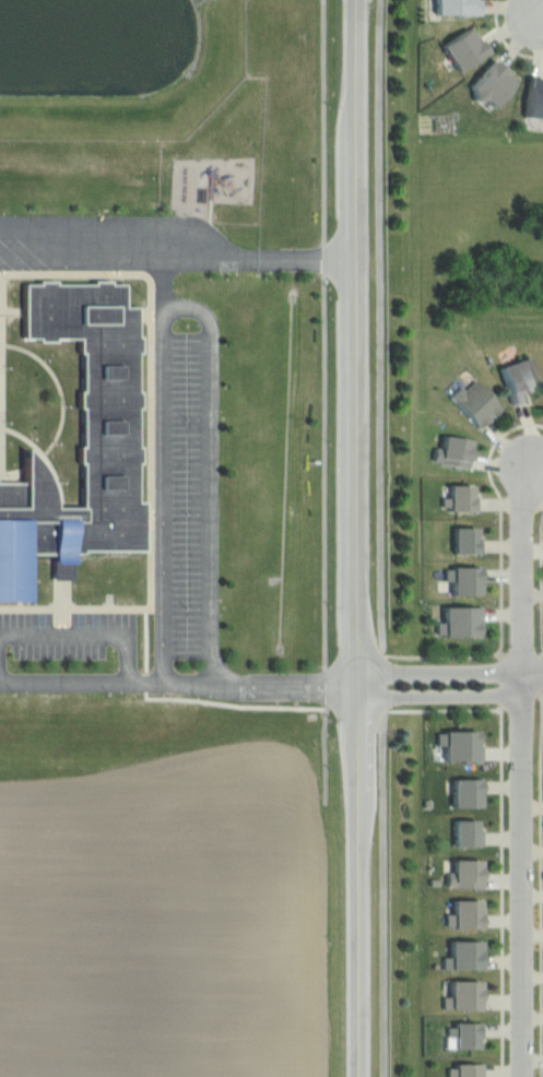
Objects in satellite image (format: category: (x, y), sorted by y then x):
building: (458, 7)
road: (505, 39)
building: (464, 47)
building: (491, 84)
building: (534, 98)
park: (480, 241)
parking lot: (117, 242)
road: (180, 255)
building: (517, 380)
road: (330, 399)
building: (475, 402)
building: (83, 440)
building: (453, 451)
road: (208, 473)
parking lot: (191, 485)
road: (162, 496)
building: (462, 498)
road: (371, 538)
road: (385, 538)
building: (468, 541)
road: (520, 570)
road: (501, 576)
building: (465, 578)
road: (541, 581)
building: (460, 620)
road: (82, 632)
parking lot: (70, 643)
road: (446, 674)
road: (531, 678)
road: (186, 680)
road: (449, 698)
building: (464, 748)
building: (468, 794)
road: (507, 832)
building: (470, 836)
building: (467, 876)
road: (522, 878)
building: (468, 914)
building: (465, 955)
building: (464, 995)
building: (469, 1034)
building: (469, 1070)

